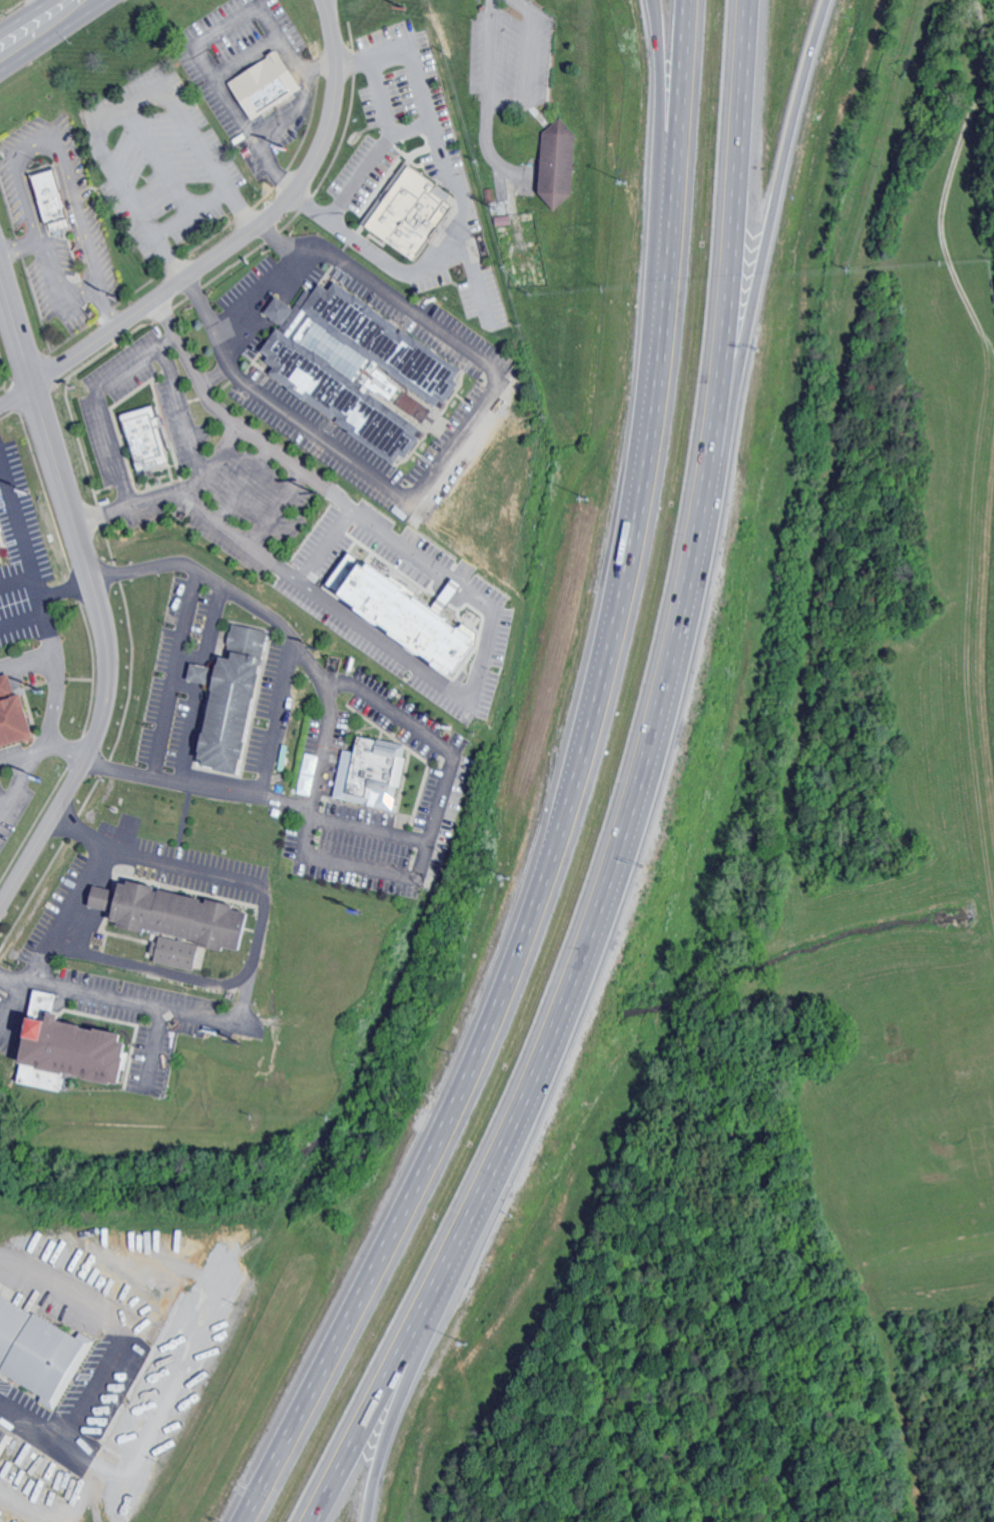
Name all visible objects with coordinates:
road: (523, 6)
road: (21, 13)
road: (55, 36)
road: (489, 49)
road: (531, 57)
road: (235, 66)
building: (268, 84)
road: (508, 99)
road: (281, 122)
road: (409, 126)
road: (487, 139)
road: (381, 146)
building: (561, 163)
road: (75, 193)
building: (52, 200)
road: (460, 207)
road: (655, 207)
building: (411, 209)
road: (196, 214)
road: (19, 246)
road: (765, 247)
road: (730, 248)
road: (0, 249)
road: (237, 249)
road: (475, 279)
road: (258, 294)
road: (106, 308)
building: (284, 310)
building: (363, 367)
road: (219, 376)
road: (188, 409)
road: (250, 430)
building: (149, 438)
road: (445, 450)
road: (216, 463)
road: (326, 487)
road: (165, 502)
road: (107, 515)
road: (21, 537)
building: (0, 557)
road: (97, 588)
road: (67, 590)
building: (449, 591)
building: (403, 612)
road: (21, 619)
road: (210, 624)
road: (49, 637)
road: (487, 671)
road: (200, 673)
building: (206, 673)
road: (175, 674)
road: (52, 676)
building: (245, 701)
road: (276, 719)
road: (325, 719)
building: (16, 721)
road: (190, 733)
road: (23, 751)
road: (69, 751)
building: (376, 772)
road: (20, 775)
road: (441, 787)
road: (570, 791)
road: (5, 799)
road: (5, 807)
road: (80, 834)
road: (108, 849)
road: (611, 870)
building: (182, 915)
building: (180, 953)
road: (191, 978)
road: (120, 1002)
road: (16, 1007)
building: (73, 1048)
road: (155, 1048)
building: (36, 1351)
road: (110, 1351)
road: (181, 1351)
road: (412, 1374)
road: (387, 1375)
road: (81, 1450)

